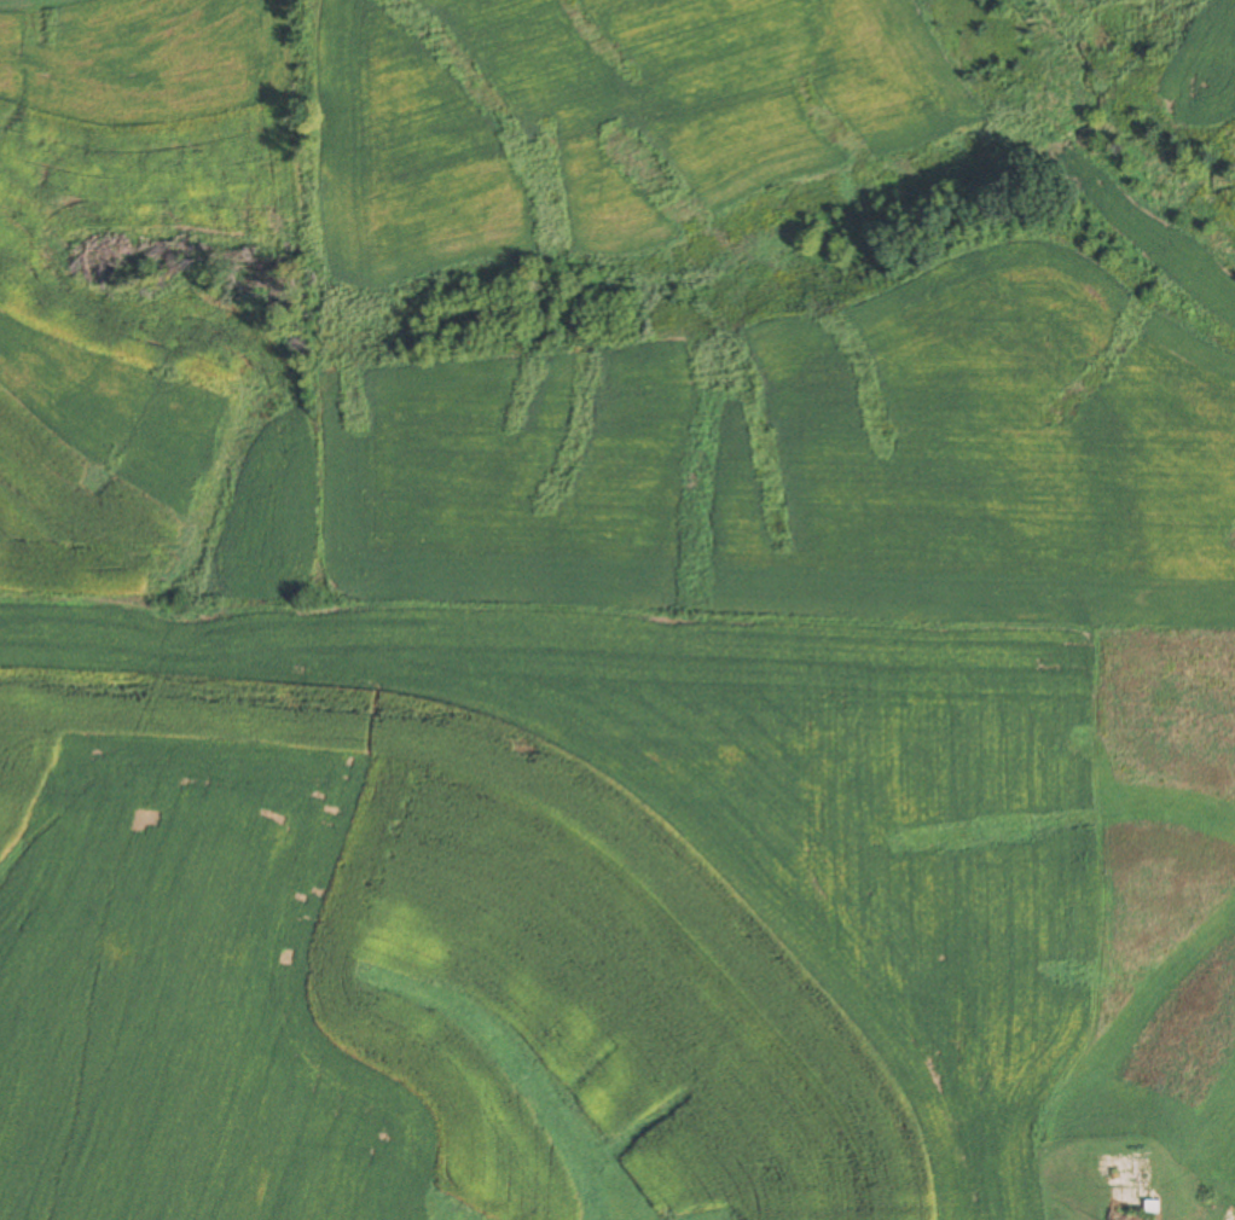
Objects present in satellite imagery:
building: (1130, 1190)

